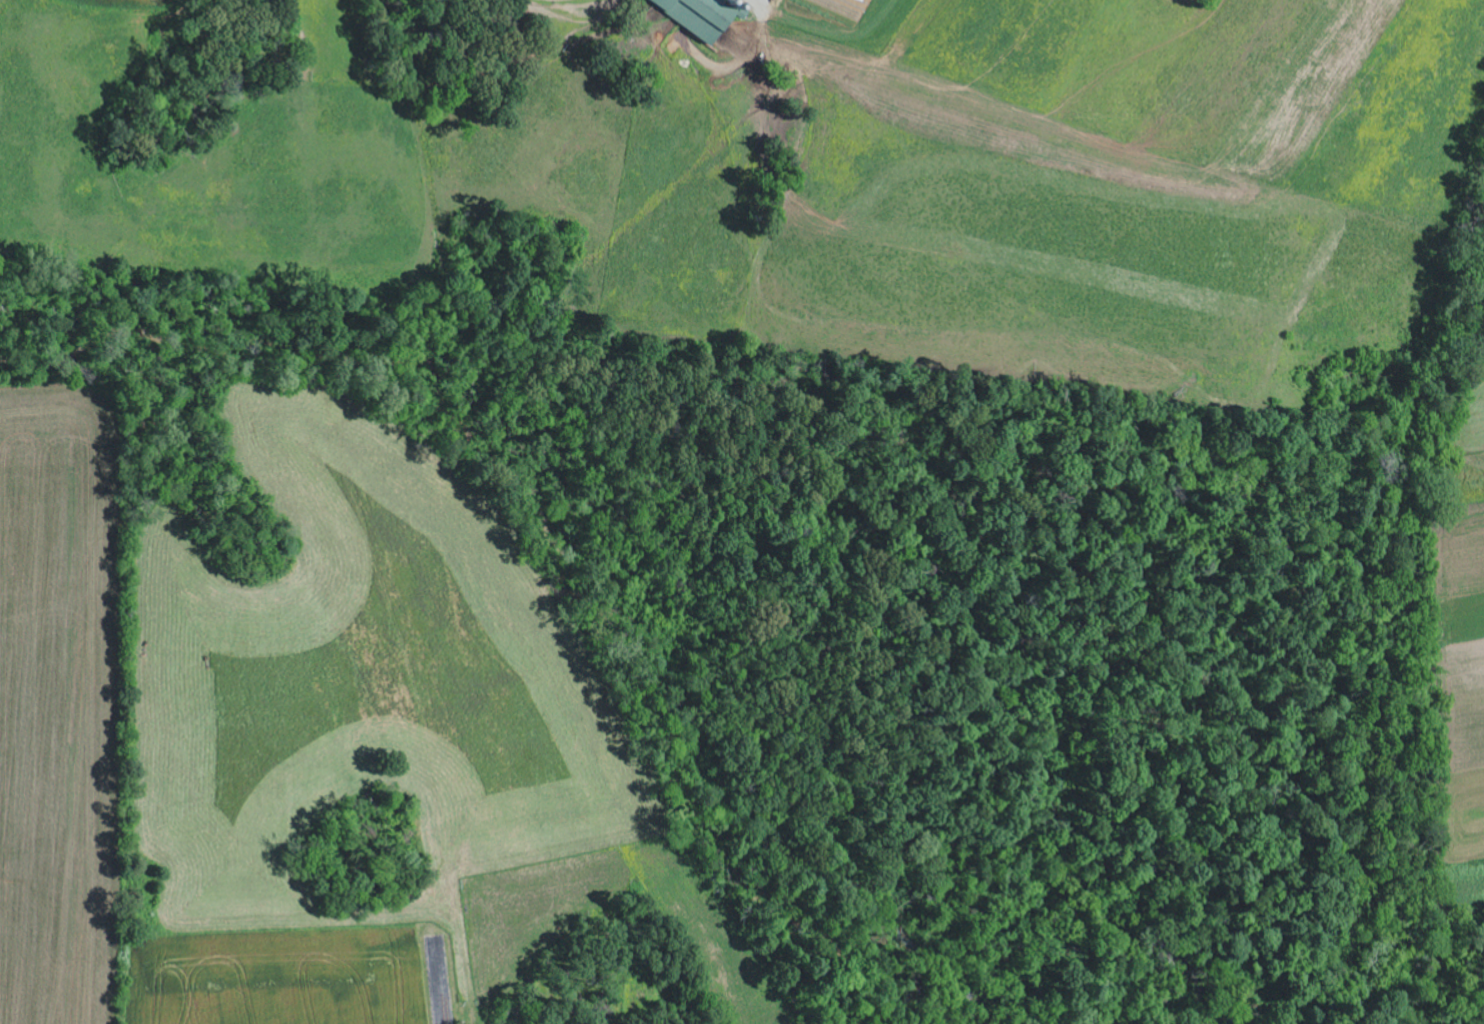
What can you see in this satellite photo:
building: (770, 0)
building: (702, 16)

